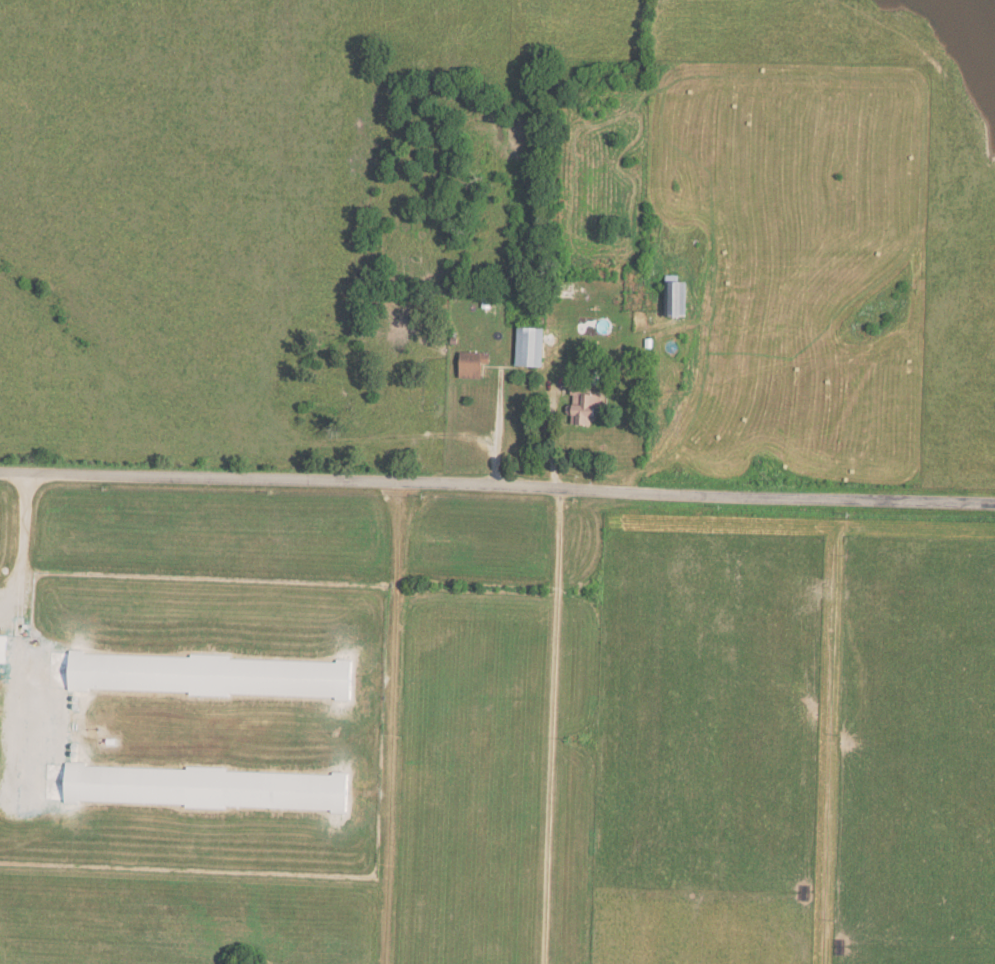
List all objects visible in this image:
building: (675, 298)
building: (531, 346)
building: (473, 364)
building: (587, 406)
road: (497, 484)
road: (20, 548)
building: (4, 648)
building: (211, 674)
road: (392, 722)
building: (206, 786)

